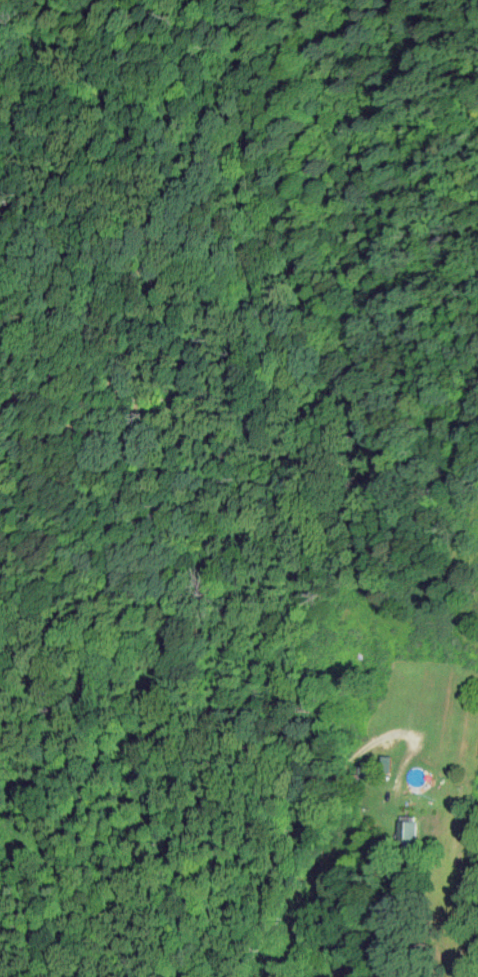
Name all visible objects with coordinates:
road: (364, 951)

